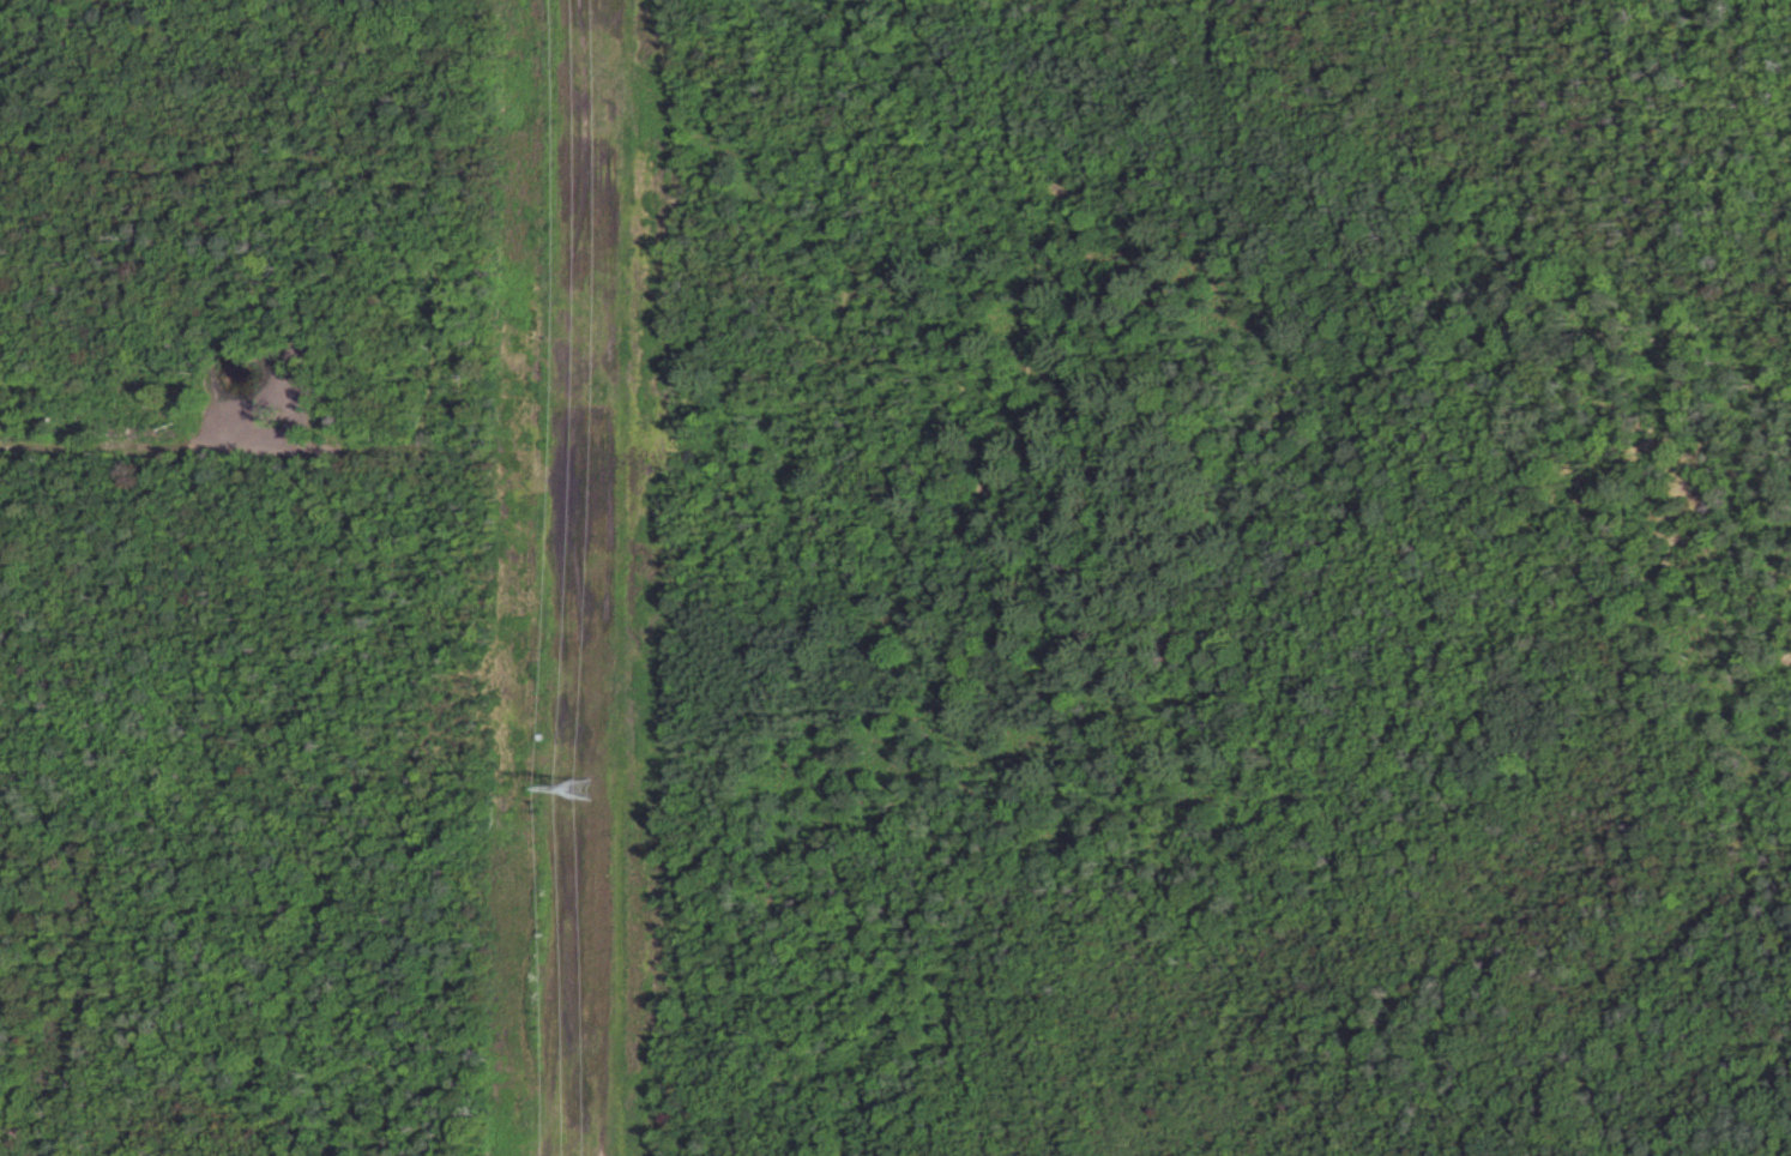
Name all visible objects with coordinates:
power tower: (581, 787)

